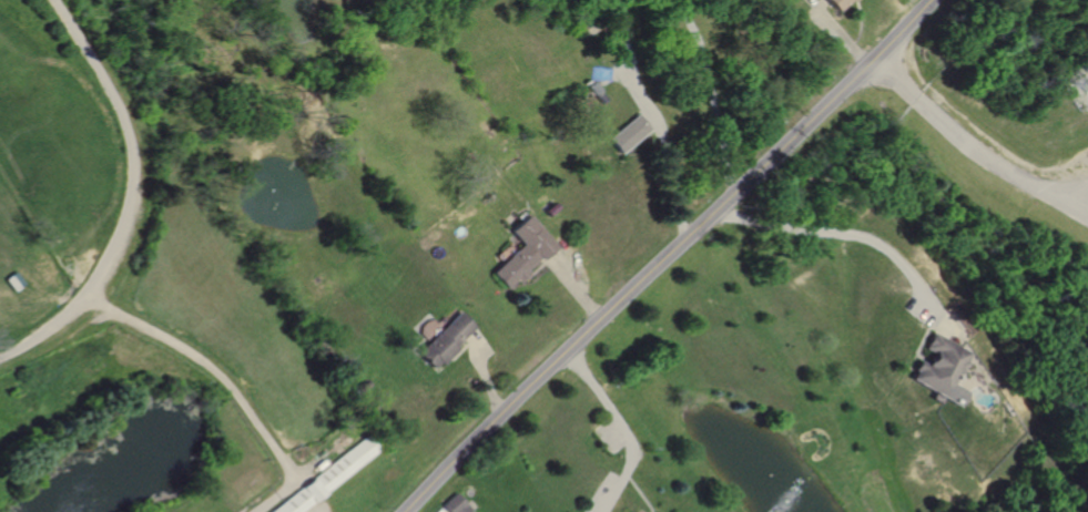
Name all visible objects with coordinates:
building: (852, 0)
road: (823, 3)
building: (838, 3)
road: (841, 31)
park: (1014, 47)
road: (619, 60)
road: (710, 92)
road: (651, 116)
building: (628, 132)
road: (958, 139)
road: (1072, 193)
road: (129, 195)
road: (1072, 209)
road: (863, 236)
building: (526, 250)
road: (668, 253)
park: (996, 266)
building: (16, 281)
building: (315, 281)
road: (577, 285)
building: (445, 340)
building: (940, 366)
road: (482, 373)
road: (227, 386)
road: (624, 427)
road: (616, 433)
building: (327, 475)
road: (609, 489)
building: (460, 504)
road: (449, 511)
building: (645, 511)
building: (654, 511)

